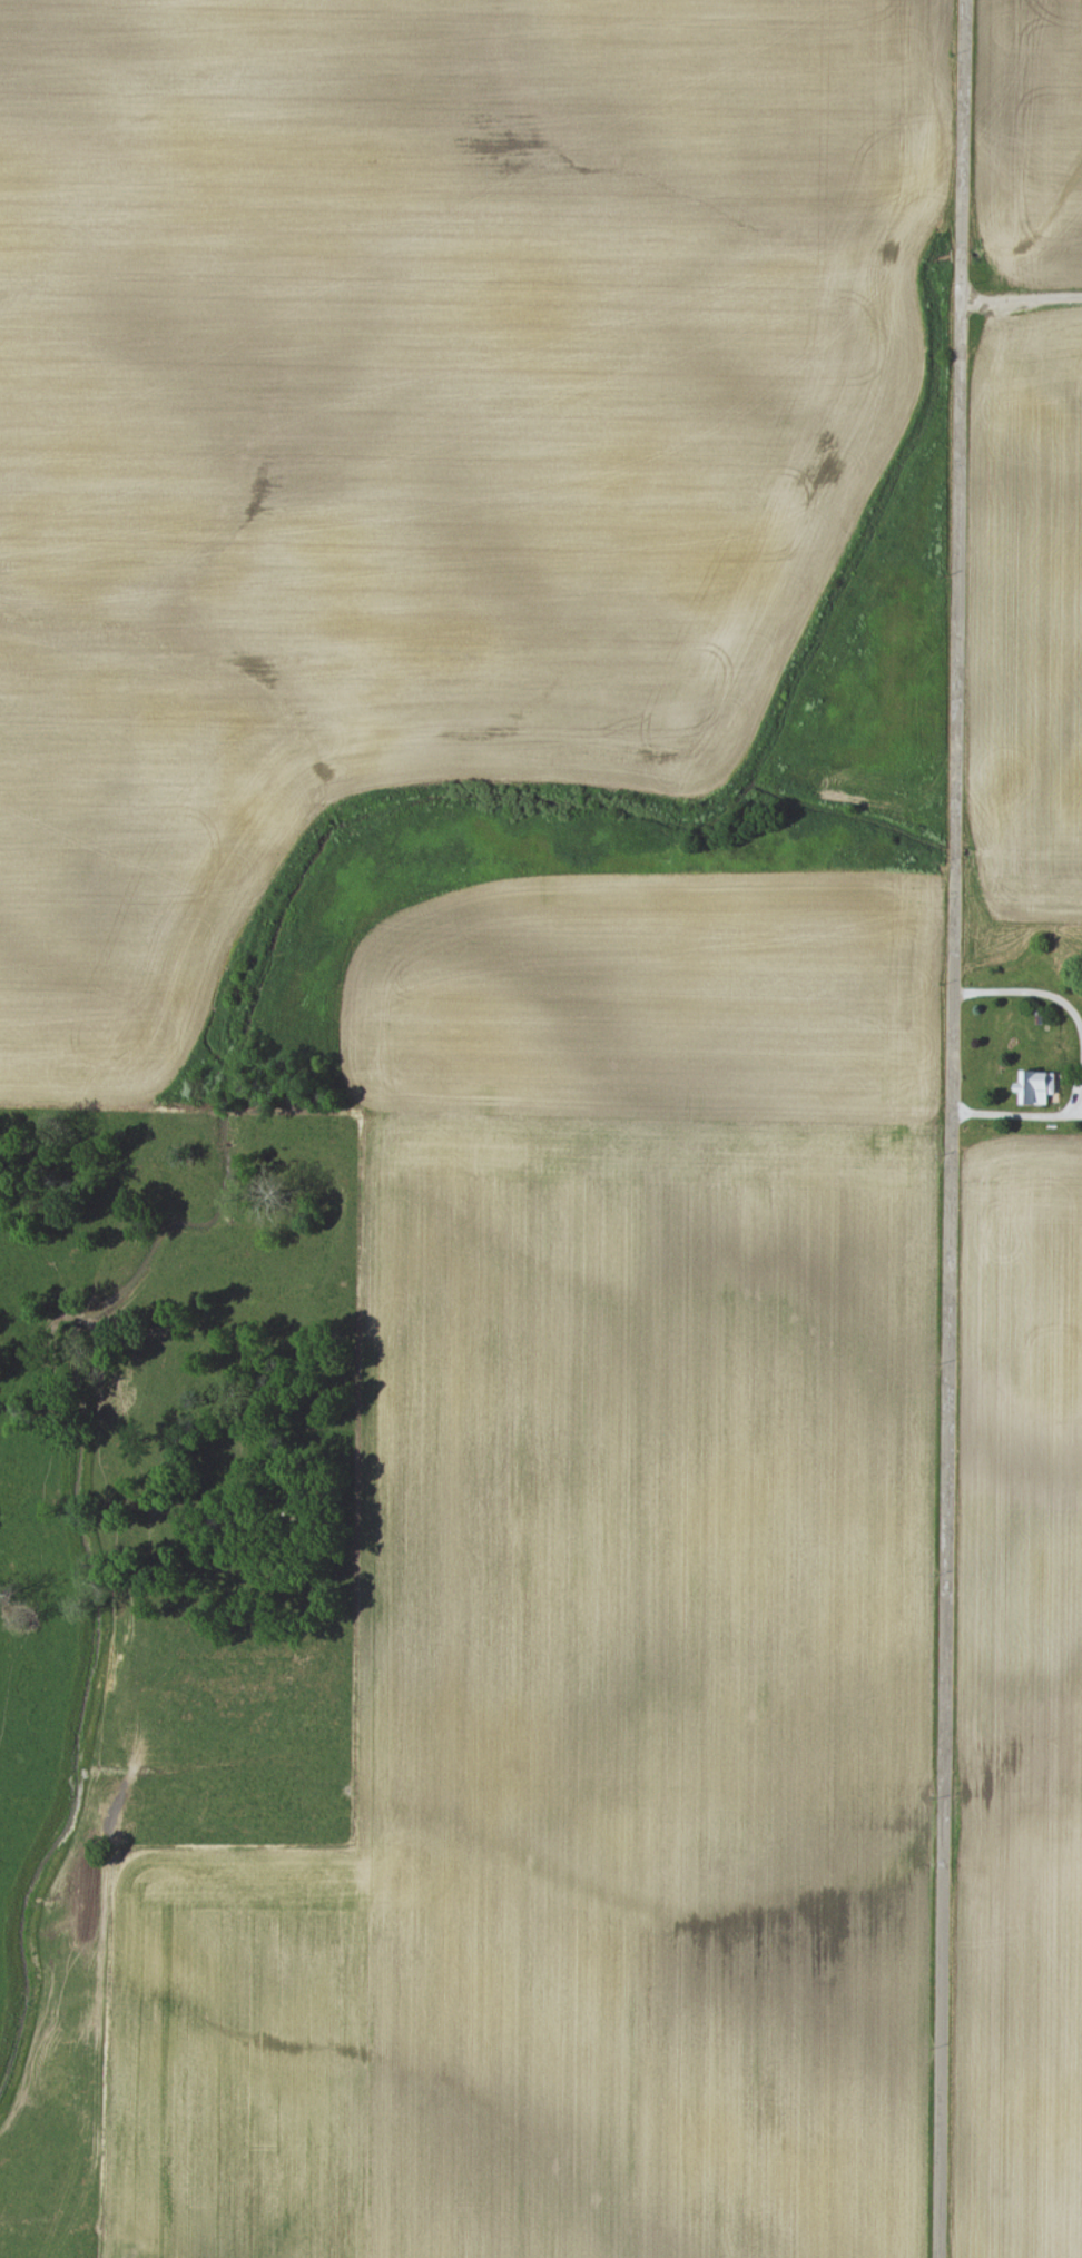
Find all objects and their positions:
road: (1019, 299)
road: (1025, 992)
road: (1044, 1115)
road: (950, 1128)
road: (1015, 1426)

